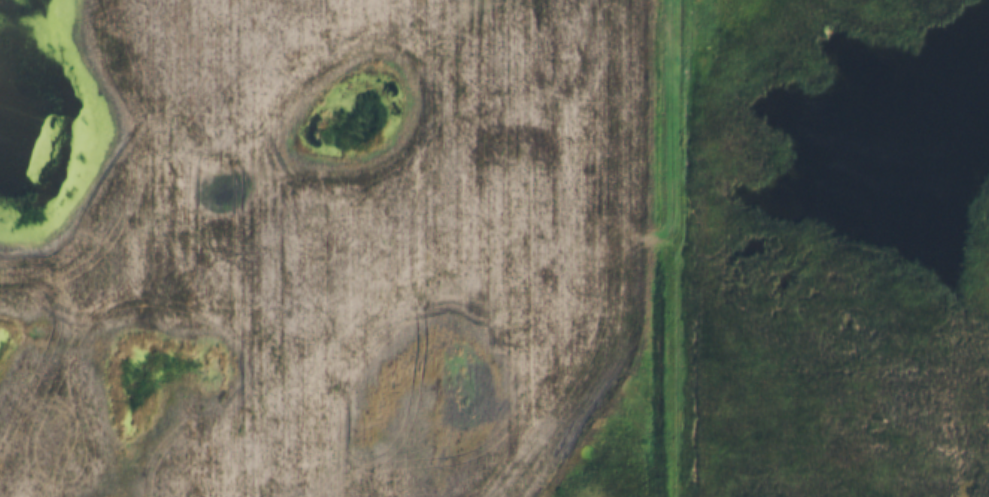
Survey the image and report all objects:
road: (675, 248)

